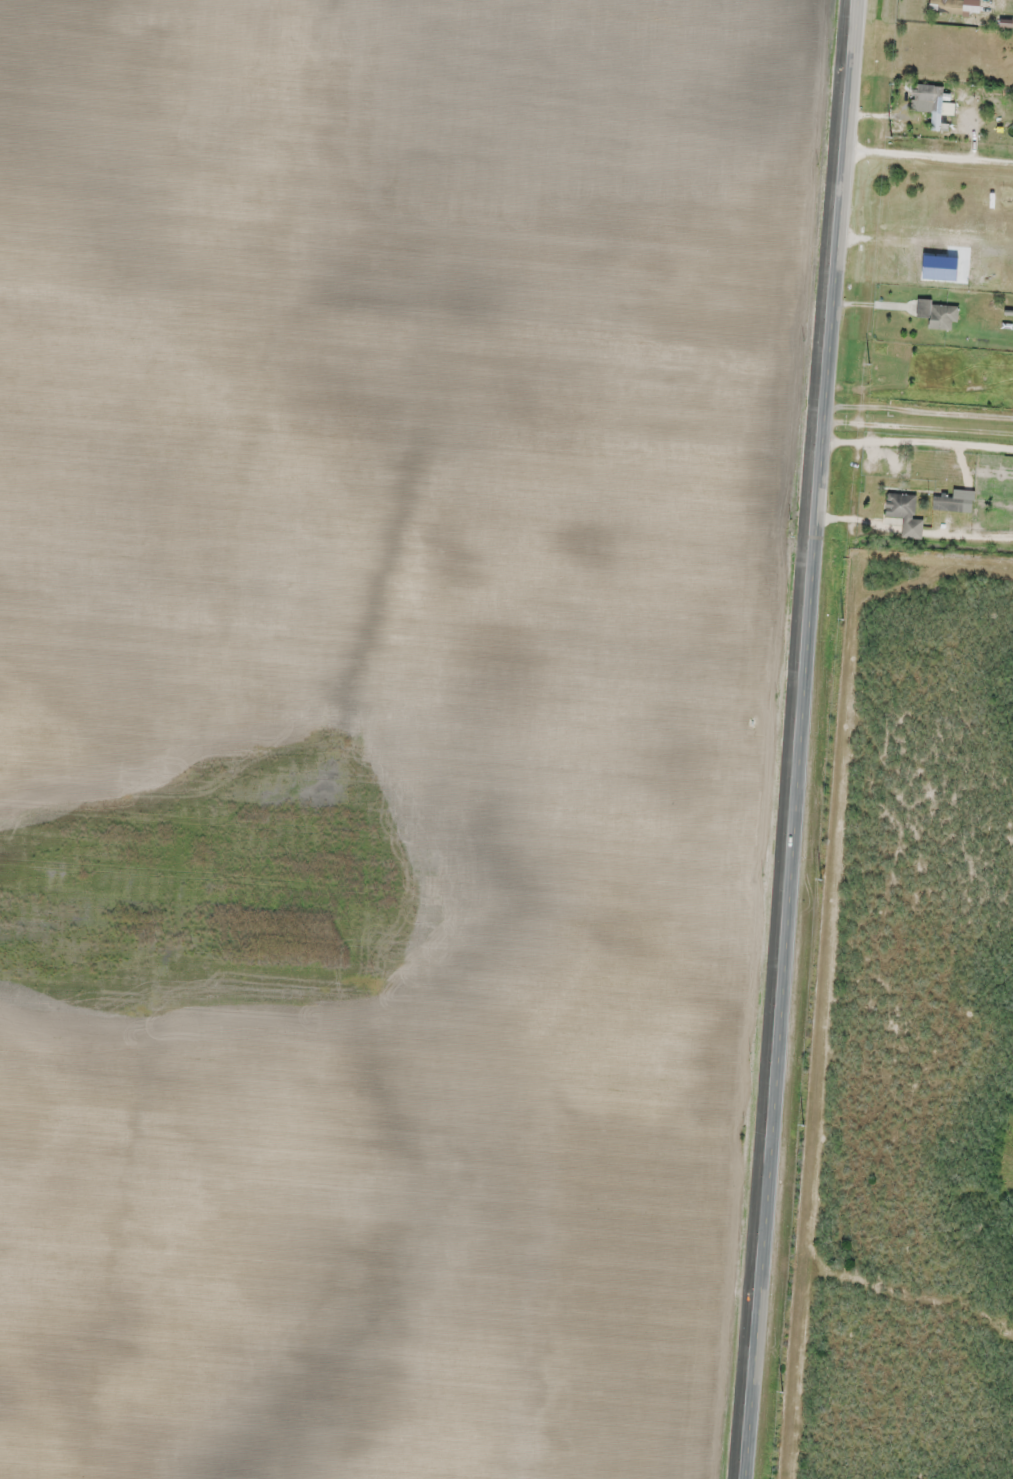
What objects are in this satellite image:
building: (932, 101)
road: (931, 139)
road: (930, 159)
building: (945, 316)
road: (921, 404)
road: (920, 422)
building: (950, 503)
building: (903, 507)
road: (915, 559)
road: (802, 739)

